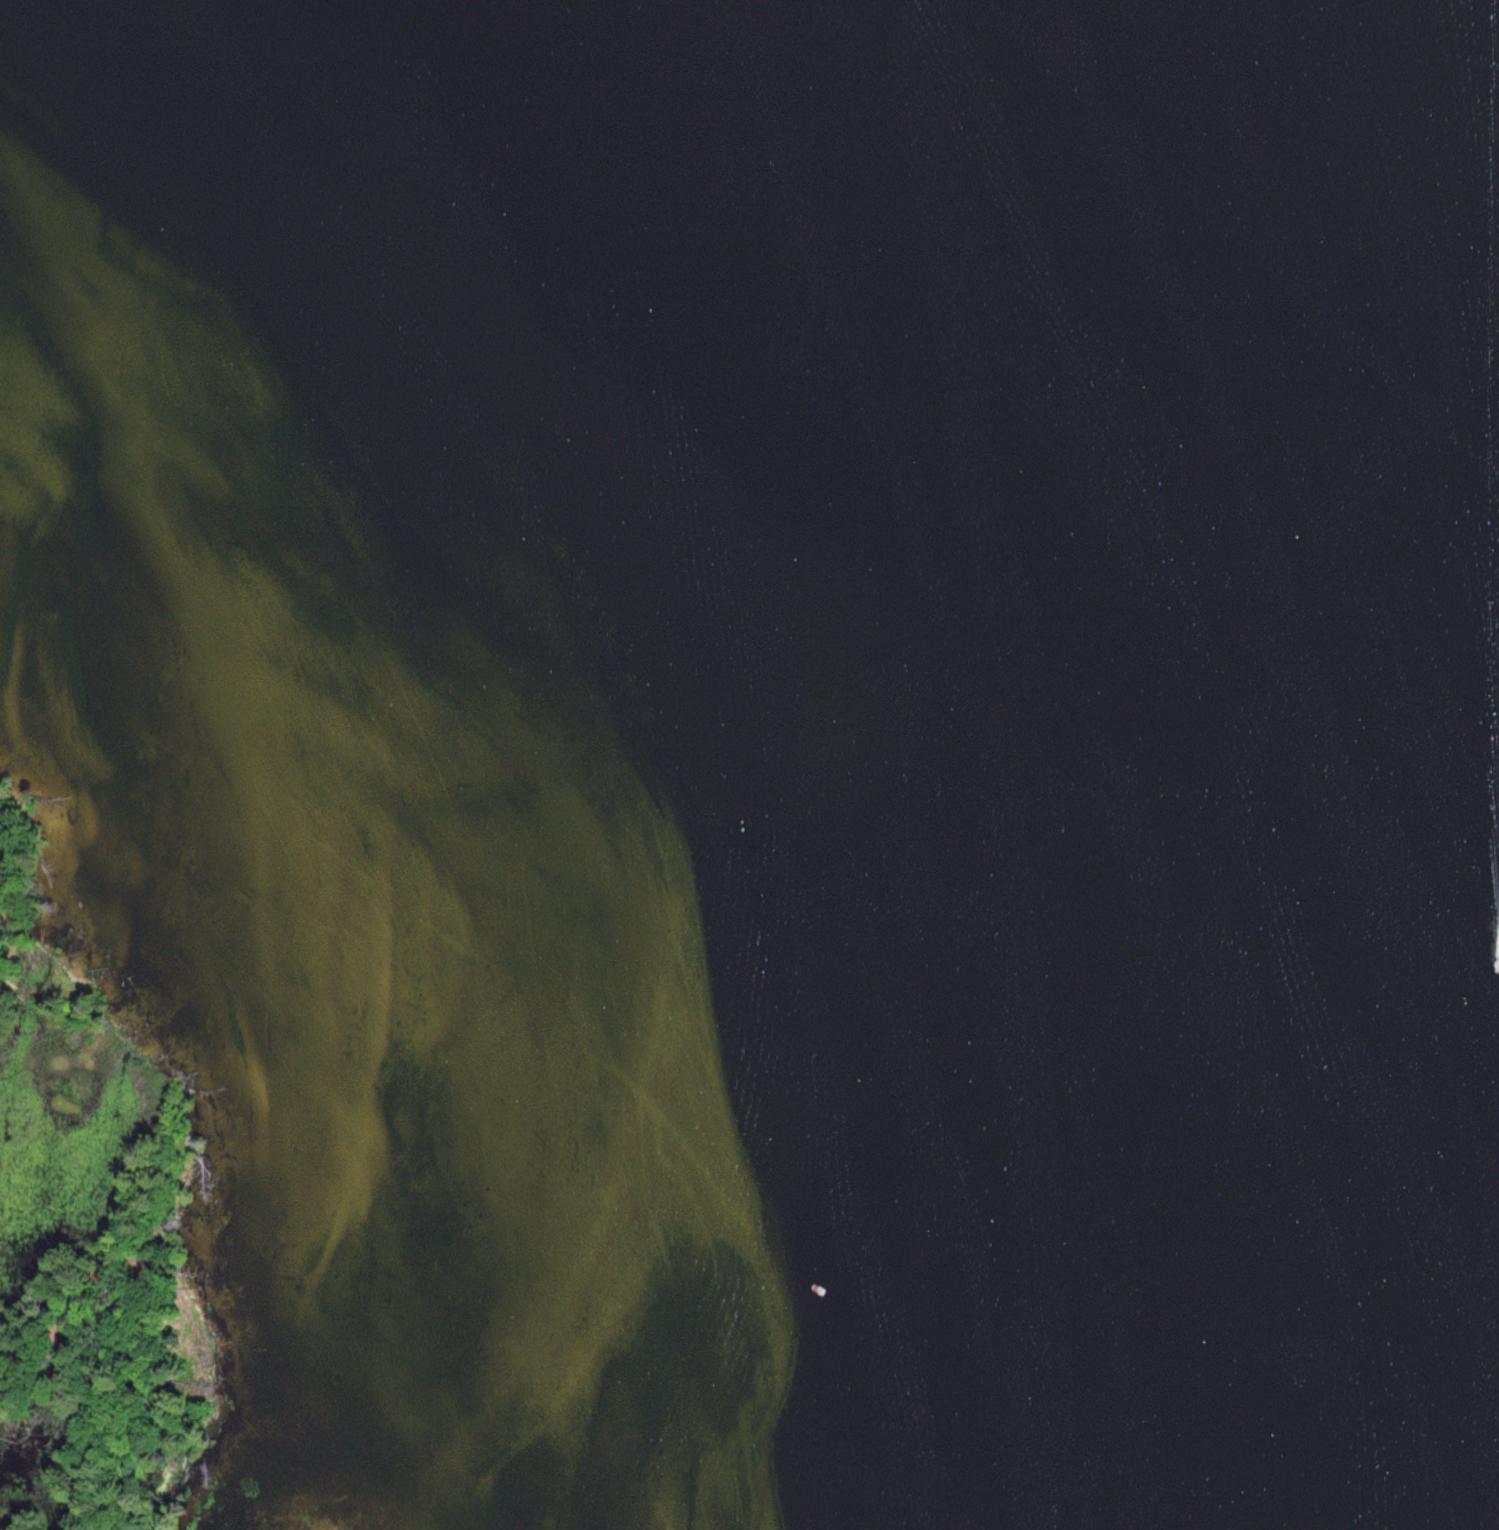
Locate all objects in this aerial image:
park: (95, 1228)

